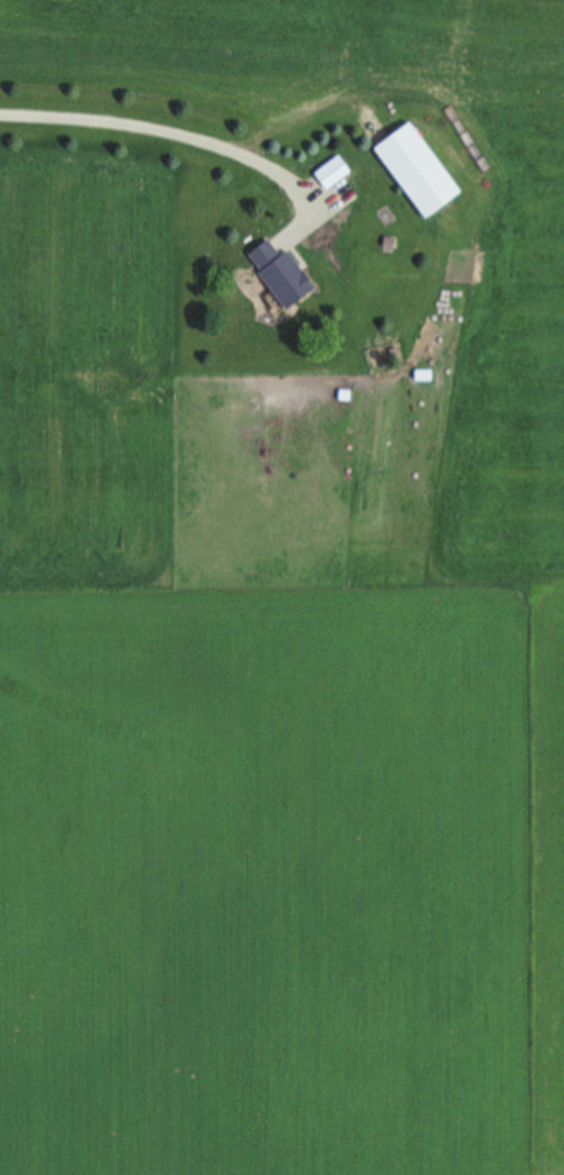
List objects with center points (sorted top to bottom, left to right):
road: (165, 126)
building: (332, 174)
building: (423, 176)
building: (286, 280)

